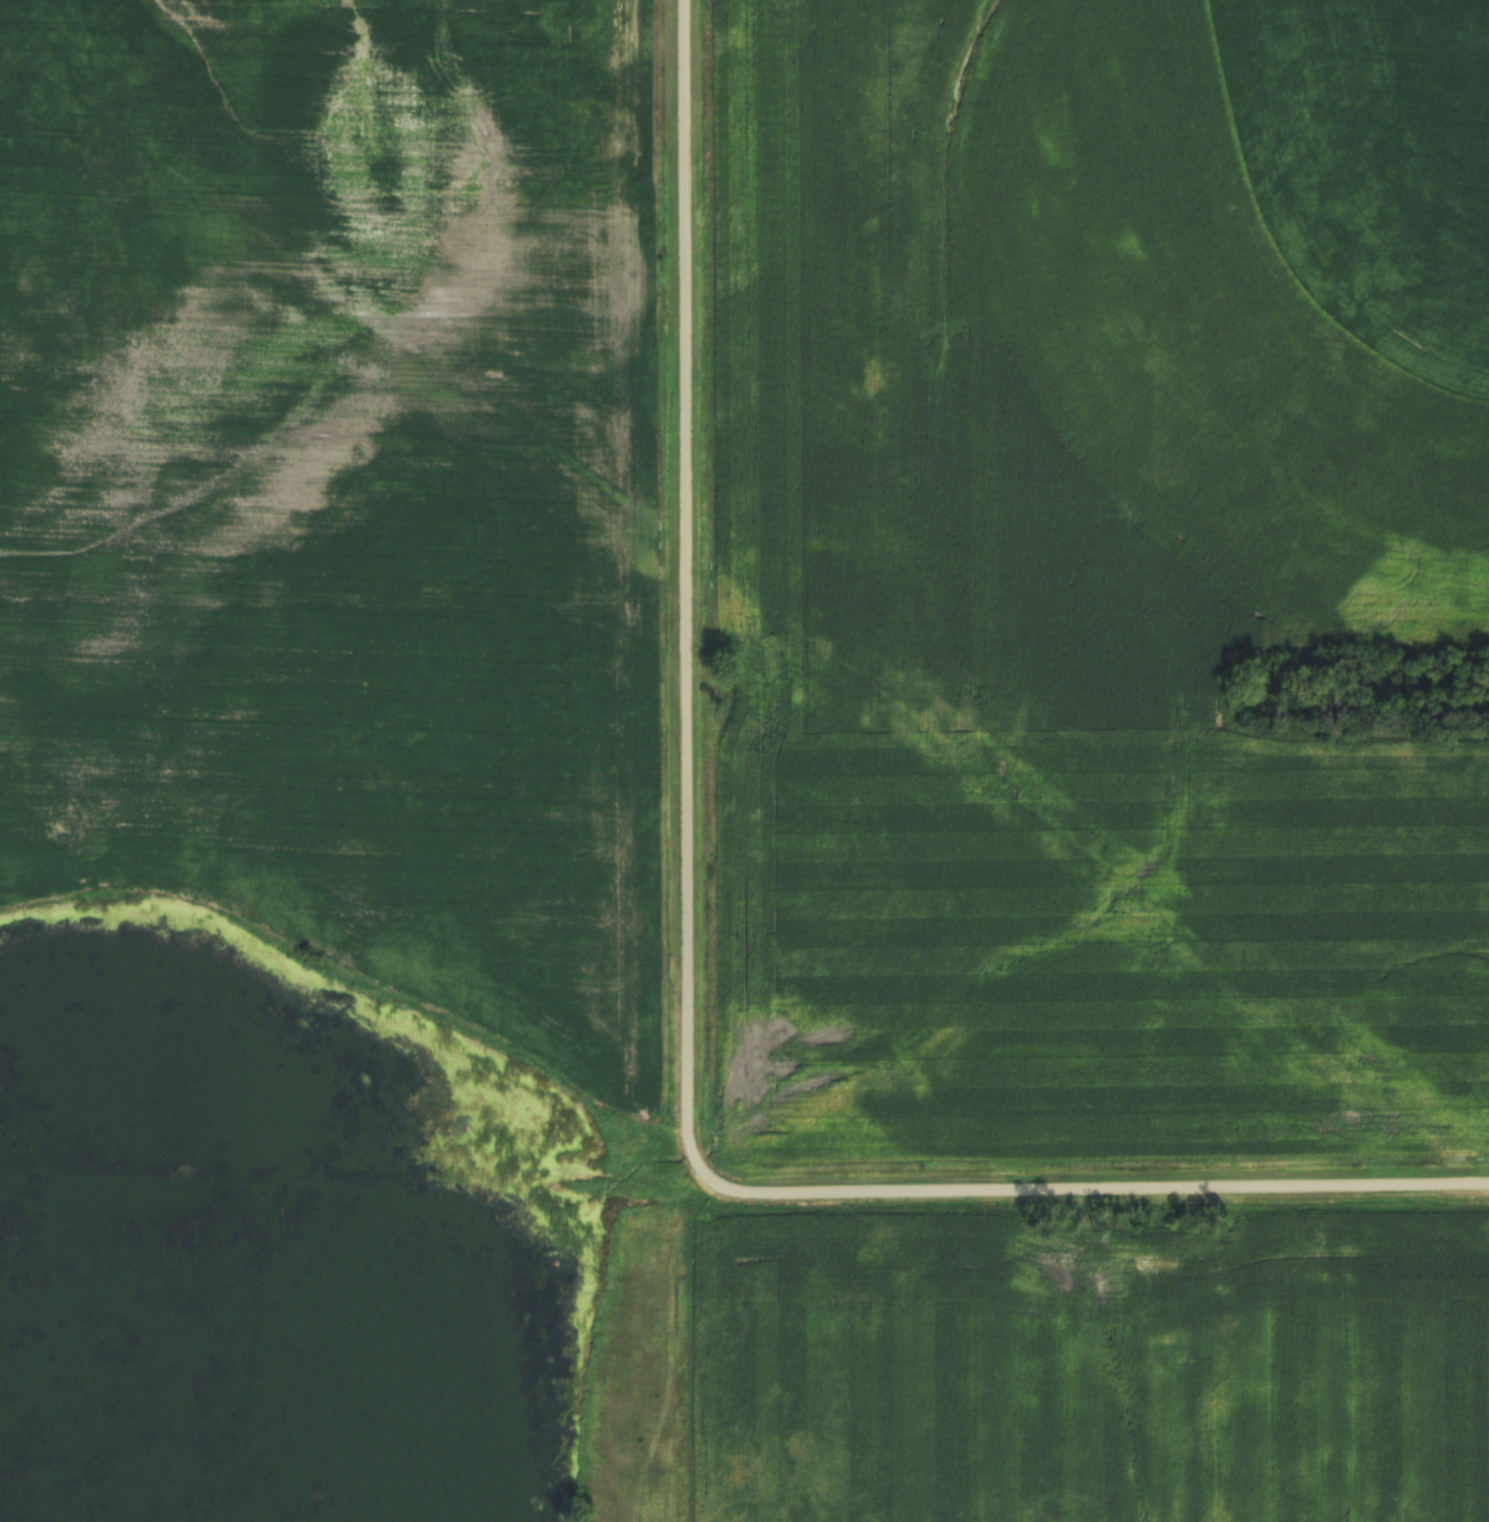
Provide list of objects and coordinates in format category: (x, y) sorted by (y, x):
road: (685, 591)
road: (922, 1183)

